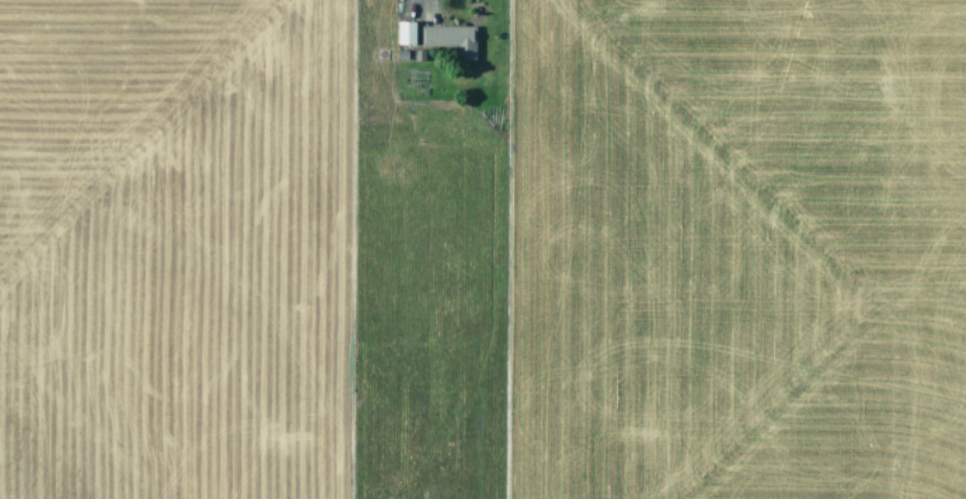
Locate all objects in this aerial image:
crop: (483, 249)

